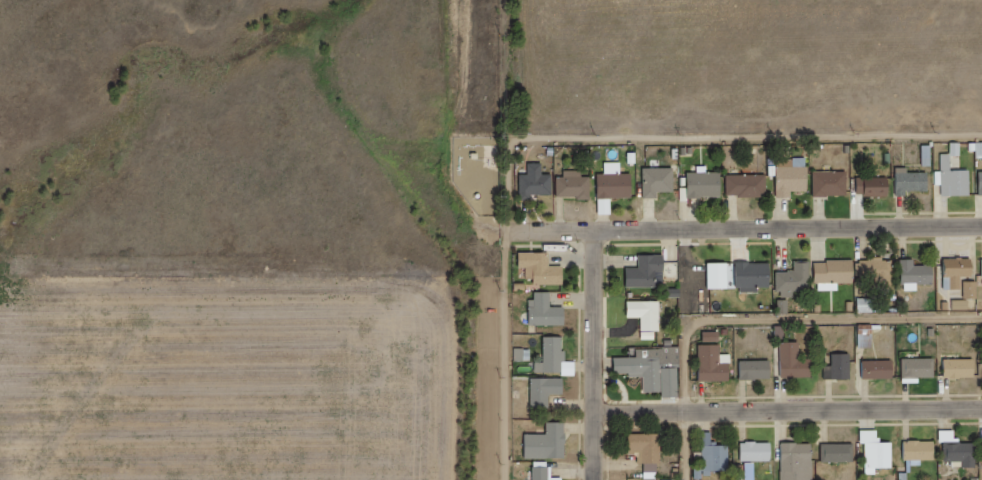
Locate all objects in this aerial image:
road: (579, 142)
building: (980, 149)
building: (981, 181)
building: (793, 182)
building: (958, 183)
building: (662, 184)
building: (913, 185)
building: (539, 186)
building: (834, 187)
building: (577, 188)
building: (706, 188)
building: (751, 188)
building: (617, 189)
building: (876, 190)
road: (748, 230)
building: (545, 271)
building: (881, 273)
building: (959, 274)
building: (838, 275)
building: (917, 276)
building: (650, 278)
building: (755, 278)
building: (798, 283)
building: (971, 289)
building: (963, 303)
building: (867, 304)
building: (785, 306)
building: (549, 315)
building: (651, 318)
road: (764, 324)
building: (867, 335)
building: (524, 353)
road: (600, 356)
building: (716, 358)
building: (554, 361)
building: (795, 361)
building: (840, 367)
building: (920, 367)
building: (962, 367)
building: (758, 369)
building: (881, 369)
building: (658, 373)
building: (548, 394)
road: (791, 411)
building: (949, 435)
building: (552, 447)
building: (921, 449)
building: (650, 450)
building: (758, 451)
building: (878, 451)
building: (840, 452)
building: (965, 453)
building: (715, 456)
building: (799, 461)
building: (544, 475)

